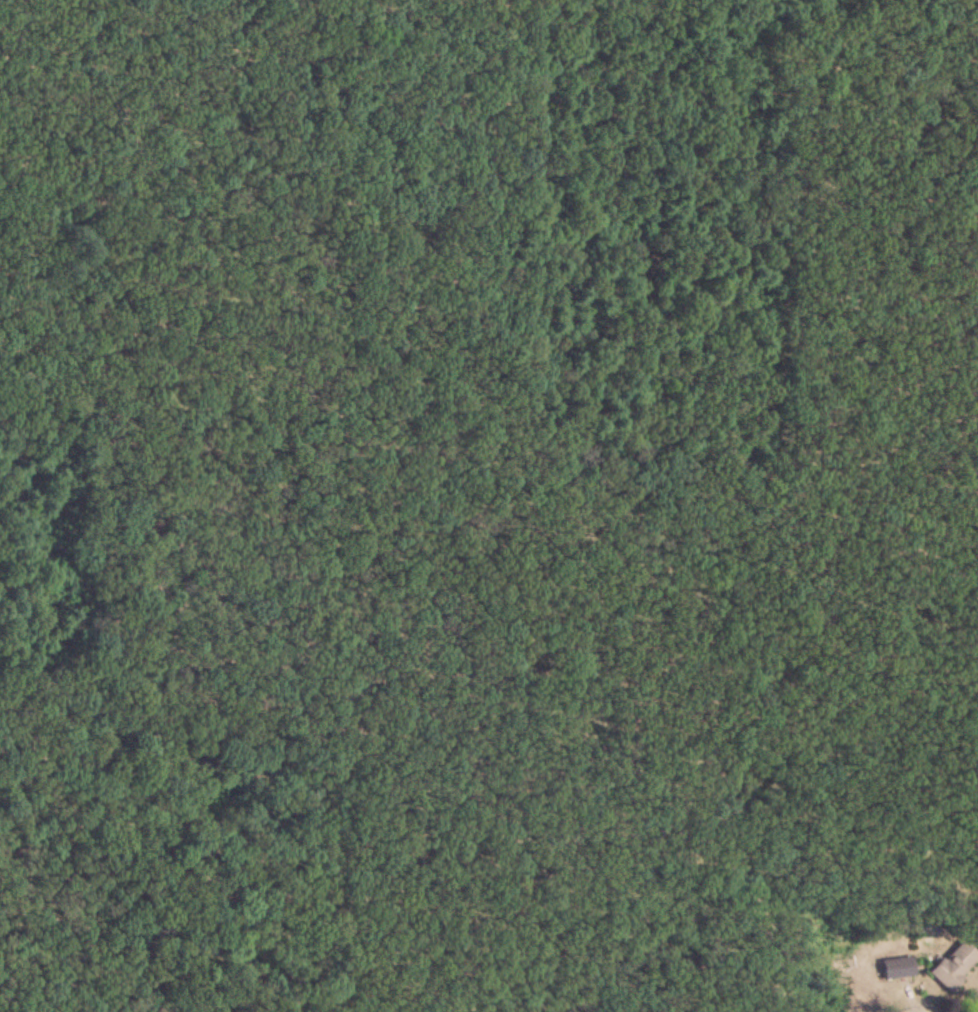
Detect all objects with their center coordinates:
building: (954, 965)
building: (898, 967)
road: (922, 1004)
road: (967, 1008)

